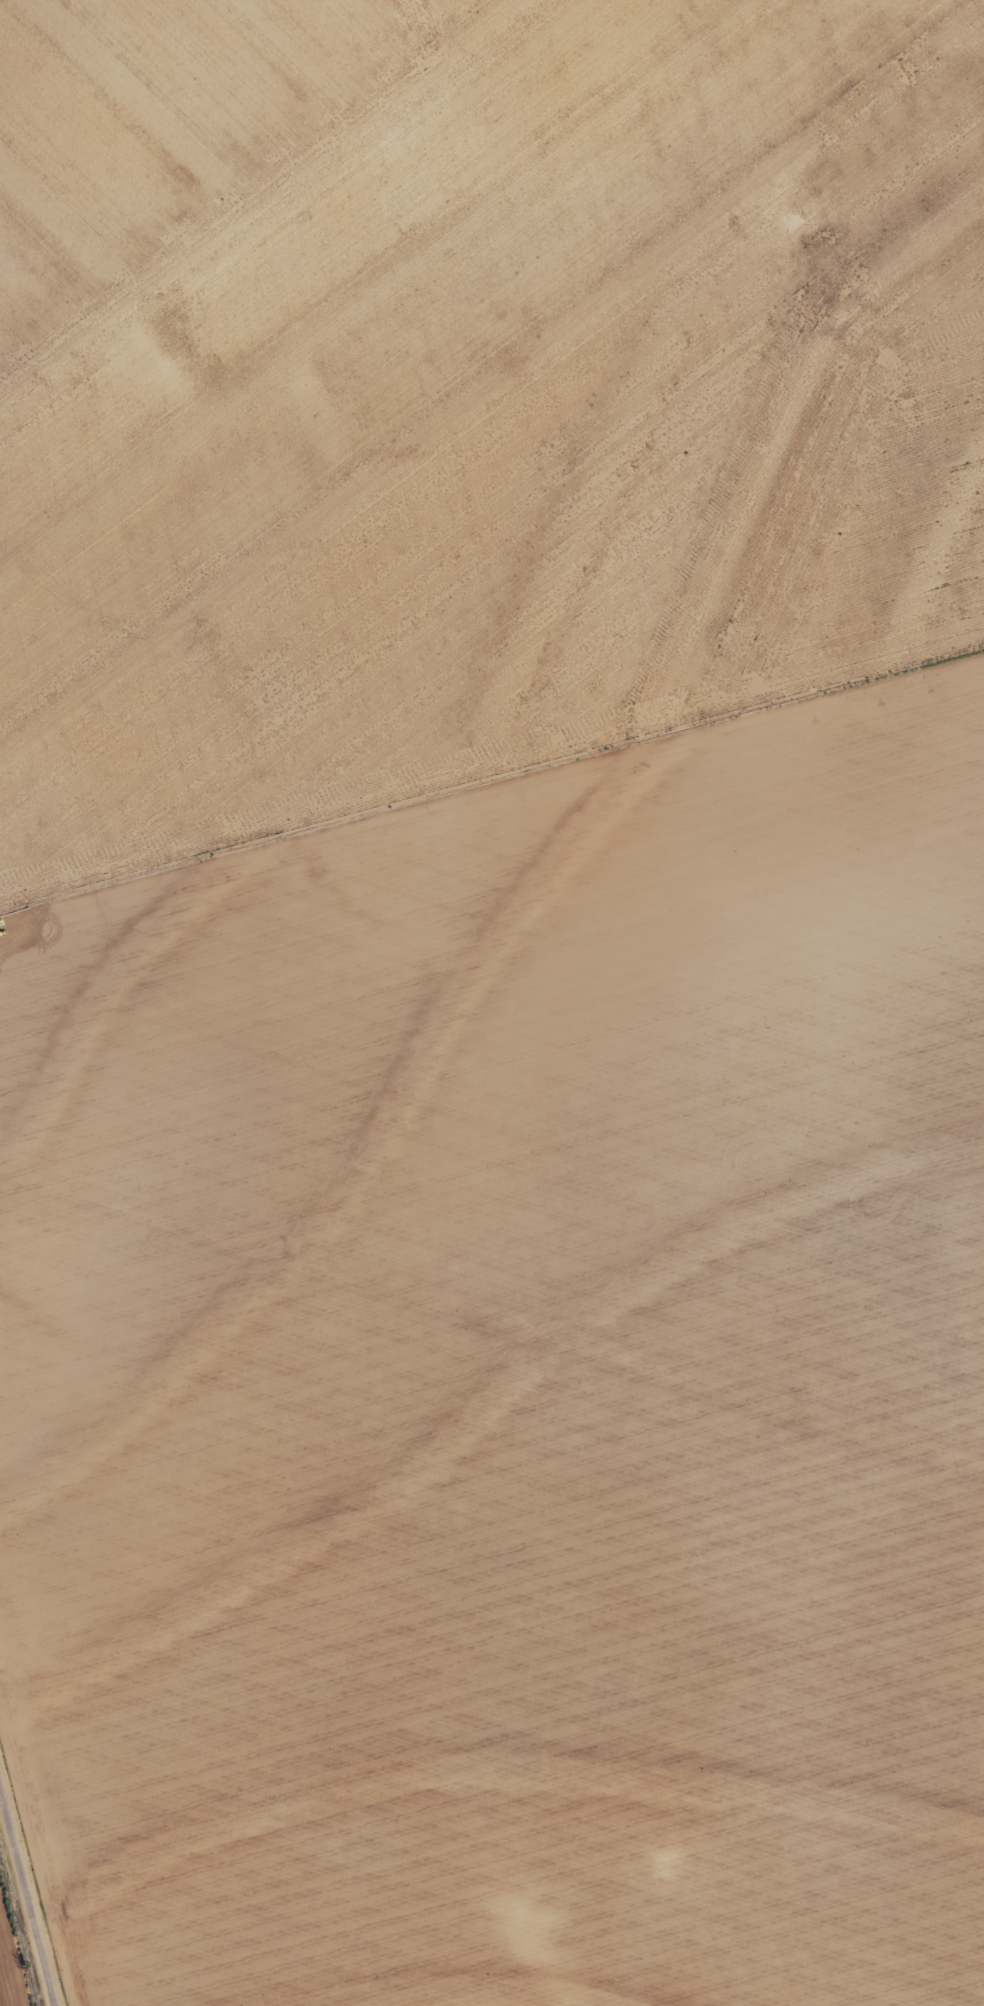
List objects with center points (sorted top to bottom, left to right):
road: (25, 1904)

